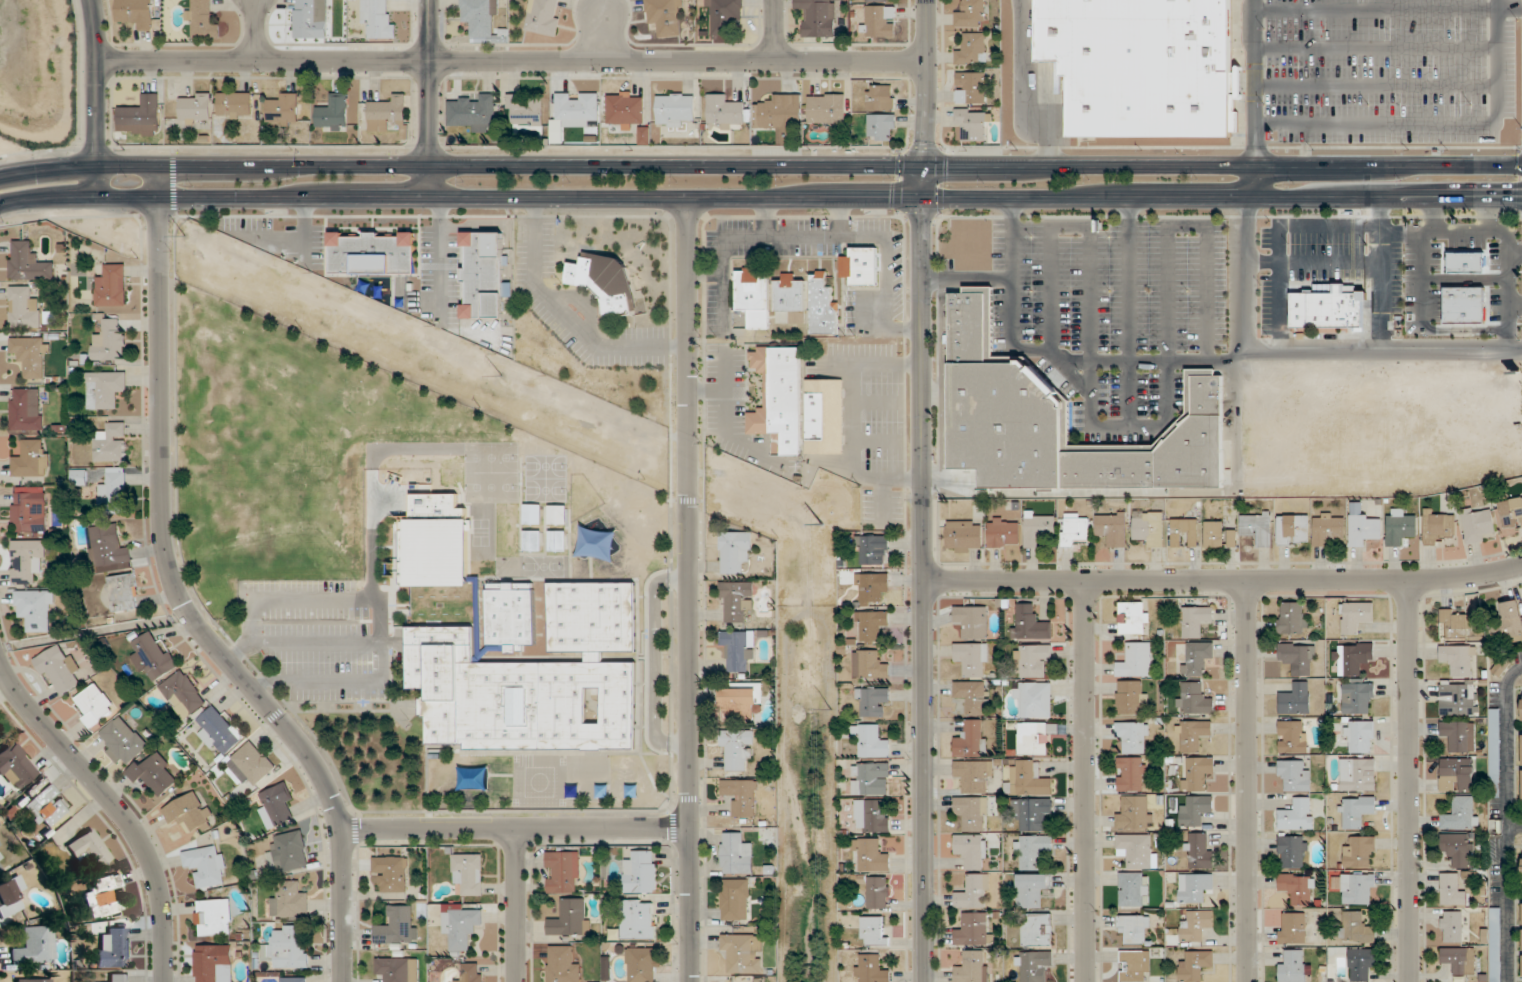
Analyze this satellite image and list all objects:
building: (877, 1)
building: (135, 13)
building: (971, 15)
building: (544, 16)
building: (724, 16)
building: (479, 17)
building: (666, 17)
building: (819, 18)
building: (201, 19)
building: (310, 19)
building: (379, 20)
building: (880, 21)
road: (255, 30)
road: (774, 30)
road: (603, 31)
building: (972, 50)
road: (511, 61)
building: (1142, 65)
building: (970, 88)
road: (97, 97)
road: (430, 97)
building: (881, 98)
building: (234, 105)
building: (195, 108)
building: (283, 109)
building: (826, 109)
building: (525, 110)
building: (577, 110)
building: (675, 110)
building: (333, 113)
building: (387, 113)
building: (629, 113)
building: (724, 113)
building: (474, 114)
building: (778, 114)
building: (140, 117)
building: (973, 124)
building: (882, 128)
traffic signals: (926, 138)
road: (760, 164)
traffic signals: (948, 164)
road: (1259, 181)
road: (343, 196)
traffic signals: (886, 197)
road: (1104, 197)
traffic signals: (1510, 198)
traffic signals: (922, 224)
building: (372, 254)
building: (28, 263)
building: (861, 267)
building: (482, 275)
building: (1477, 277)
building: (607, 281)
building: (112, 287)
building: (754, 296)
building: (790, 299)
building: (823, 306)
building: (24, 309)
building: (1327, 309)
building: (1462, 329)
building: (110, 341)
building: (31, 356)
building: (103, 390)
building: (779, 396)
building: (26, 410)
building: (824, 416)
building: (1060, 421)
building: (111, 443)
building: (32, 460)
building: (79, 477)
road: (922, 490)
building: (113, 494)
building: (27, 514)
building: (508, 514)
building: (532, 514)
building: (1511, 514)
building: (557, 515)
building: (1479, 525)
building: (1257, 527)
building: (1363, 527)
building: (1039, 528)
building: (1149, 528)
building: (1400, 528)
building: (1437, 528)
building: (1074, 529)
building: (1112, 529)
building: (1328, 529)
building: (1293, 530)
building: (1185, 532)
building: (1003, 533)
building: (1214, 534)
building: (964, 537)
building: (507, 540)
building: (532, 540)
building: (557, 541)
building: (108, 547)
building: (872, 550)
building: (735, 551)
building: (27, 561)
road: (1223, 580)
building: (872, 588)
road: (689, 589)
building: (123, 593)
road: (181, 598)
road: (316, 598)
building: (737, 602)
building: (34, 608)
building: (510, 614)
building: (1356, 617)
building: (1133, 618)
building: (1293, 618)
building: (1195, 621)
building: (972, 622)
building: (1508, 623)
building: (1028, 624)
building: (1456, 624)
building: (871, 626)
road: (316, 641)
road: (239, 650)
building: (736, 651)
building: (154, 658)
building: (1196, 658)
building: (1298, 658)
building: (1354, 658)
building: (972, 659)
road: (382, 660)
building: (1459, 660)
building: (1032, 661)
building: (1136, 661)
building: (870, 665)
building: (1501, 667)
building: (59, 670)
road: (315, 679)
building: (534, 680)
building: (182, 695)
building: (971, 696)
building: (1131, 698)
building: (1458, 698)
building: (1034, 699)
building: (1194, 699)
building: (1296, 699)
building: (1360, 700)
building: (741, 701)
building: (872, 701)
building: (94, 706)
building: (1521, 708)
building: (220, 731)
building: (1193, 735)
building: (1292, 736)
building: (1459, 736)
building: (1133, 737)
building: (1360, 737)
building: (1033, 739)
building: (972, 740)
building: (122, 741)
building: (872, 742)
building: (738, 748)
building: (251, 765)
building: (16, 767)
building: (1521, 768)
building: (1197, 773)
building: (1132, 774)
building: (1294, 774)
building: (154, 775)
building: (1358, 775)
building: (1456, 775)
building: (974, 776)
building: (473, 779)
building: (871, 779)
building: (1028, 780)
road: (1085, 781)
road: (1246, 781)
road: (1409, 781)
building: (741, 796)
building: (277, 806)
building: (46, 808)
road: (116, 808)
building: (1196, 811)
building: (1357, 811)
building: (189, 813)
building: (972, 813)
building: (1032, 813)
building: (1135, 813)
building: (1461, 814)
building: (1297, 815)
building: (871, 817)
road: (1506, 820)
road: (1514, 827)
road: (516, 829)
building: (89, 849)
building: (1136, 850)
building: (1456, 850)
building: (972, 851)
building: (1200, 851)
building: (290, 852)
building: (1031, 852)
building: (1293, 852)
building: (1360, 853)
building: (736, 854)
building: (872, 855)
building: (206, 866)
building: (1, 869)
building: (1521, 869)
building: (392, 873)
building: (563, 873)
building: (641, 873)
building: (468, 874)
building: (1195, 887)
building: (1298, 889)
building: (1358, 889)
building: (1031, 890)
building: (1133, 890)
building: (1452, 890)
building: (878, 893)
building: (973, 893)
building: (11, 897)
building: (104, 897)
building: (288, 900)
building: (734, 900)
road: (517, 905)
building: (213, 918)
building: (570, 919)
building: (638, 920)
building: (397, 926)
building: (1197, 926)
building: (462, 928)
building: (1452, 928)
building: (1135, 929)
building: (1292, 929)
building: (1357, 929)
building: (974, 930)
building: (1037, 930)
building: (873, 931)
building: (1521, 940)
building: (1495, 945)
building: (35, 946)
building: (287, 948)
building: (114, 949)
building: (744, 953)
building: (1459, 961)
building: (213, 963)
building: (1362, 963)
building: (562, 965)
building: (642, 965)
building: (1135, 966)
building: (1196, 966)
building: (973, 967)
building: (1034, 967)
building: (1293, 967)
building: (871, 969)
building: (396, 970)
building: (472, 972)
building: (120, 978)
building: (294, 979)
building: (36, 980)

